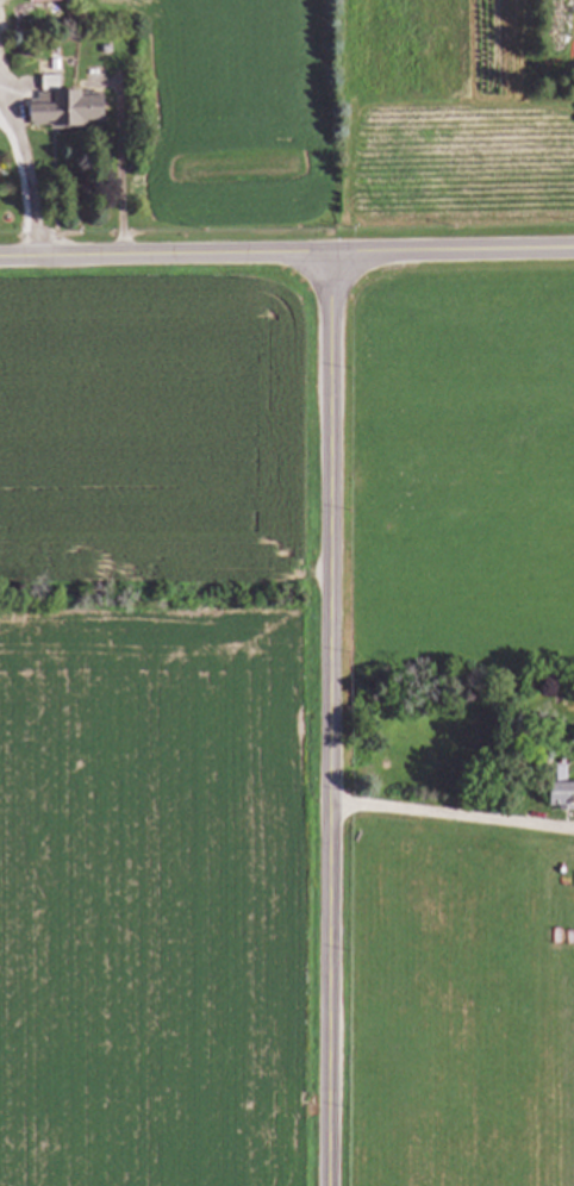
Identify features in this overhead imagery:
building: (70, 111)
road: (27, 162)
road: (121, 169)
road: (287, 256)
road: (326, 720)
crop: (154, 729)
building: (561, 786)
road: (450, 814)

